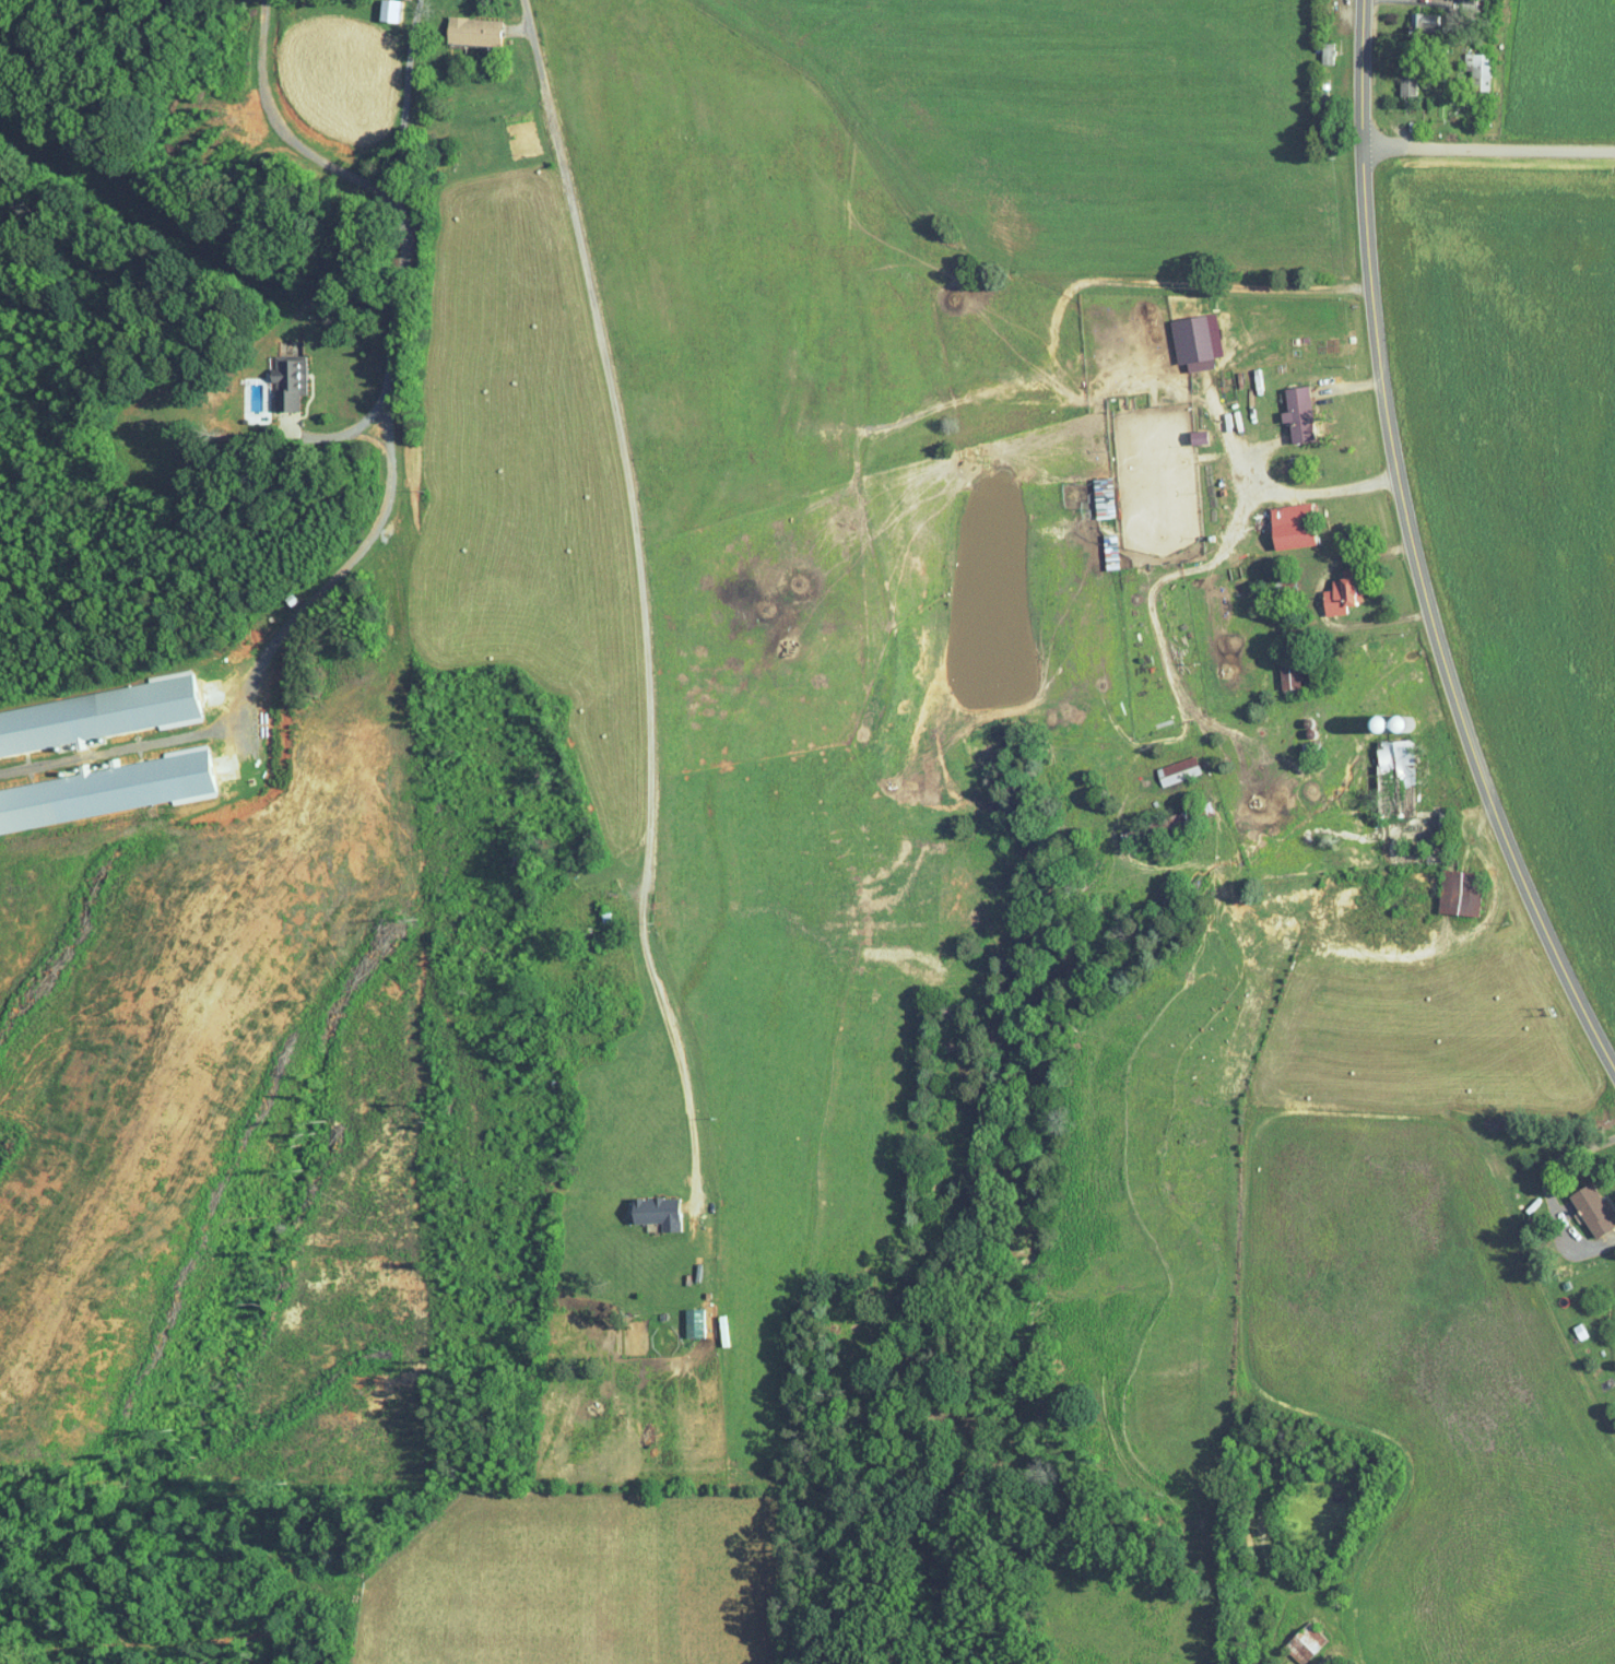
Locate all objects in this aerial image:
building: (389, 11)
building: (1425, 26)
building: (474, 32)
building: (1328, 54)
building: (1478, 70)
building: (1410, 86)
road: (281, 132)
road: (1488, 147)
building: (1192, 343)
building: (288, 383)
road: (387, 394)
building: (1299, 415)
building: (1200, 438)
road: (627, 483)
road: (1312, 491)
building: (1104, 498)
building: (1293, 527)
building: (1110, 552)
road: (1415, 552)
building: (1341, 594)
building: (1289, 674)
building: (98, 715)
building: (1178, 770)
building: (1395, 777)
building: (108, 790)
building: (1460, 892)
road: (687, 1085)
building: (1593, 1211)
building: (658, 1212)
building: (695, 1322)
building: (1306, 1641)

